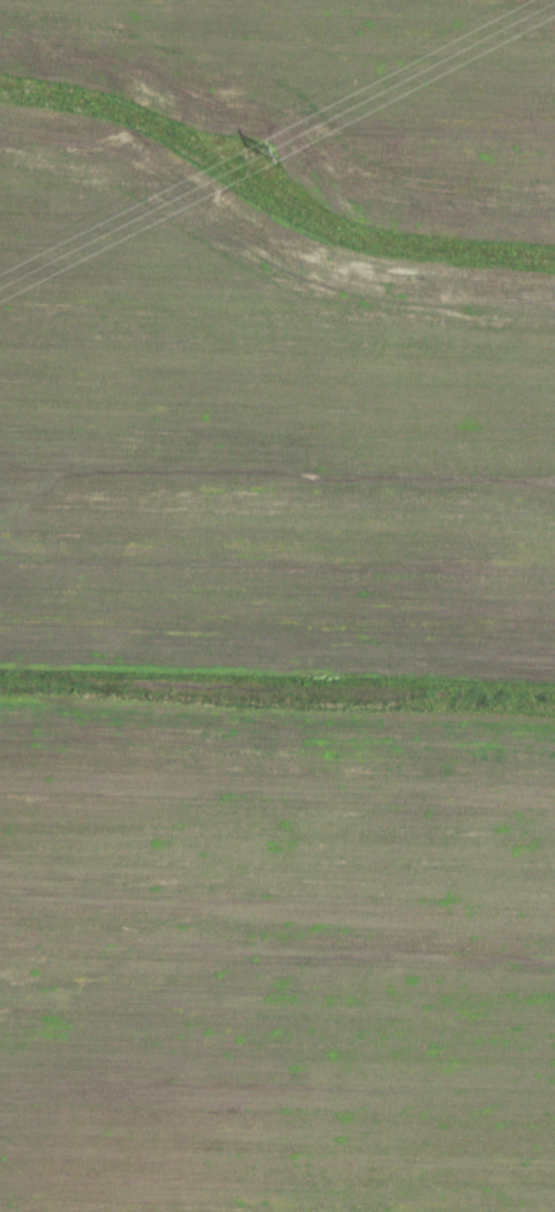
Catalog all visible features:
power tower: (266, 154)

